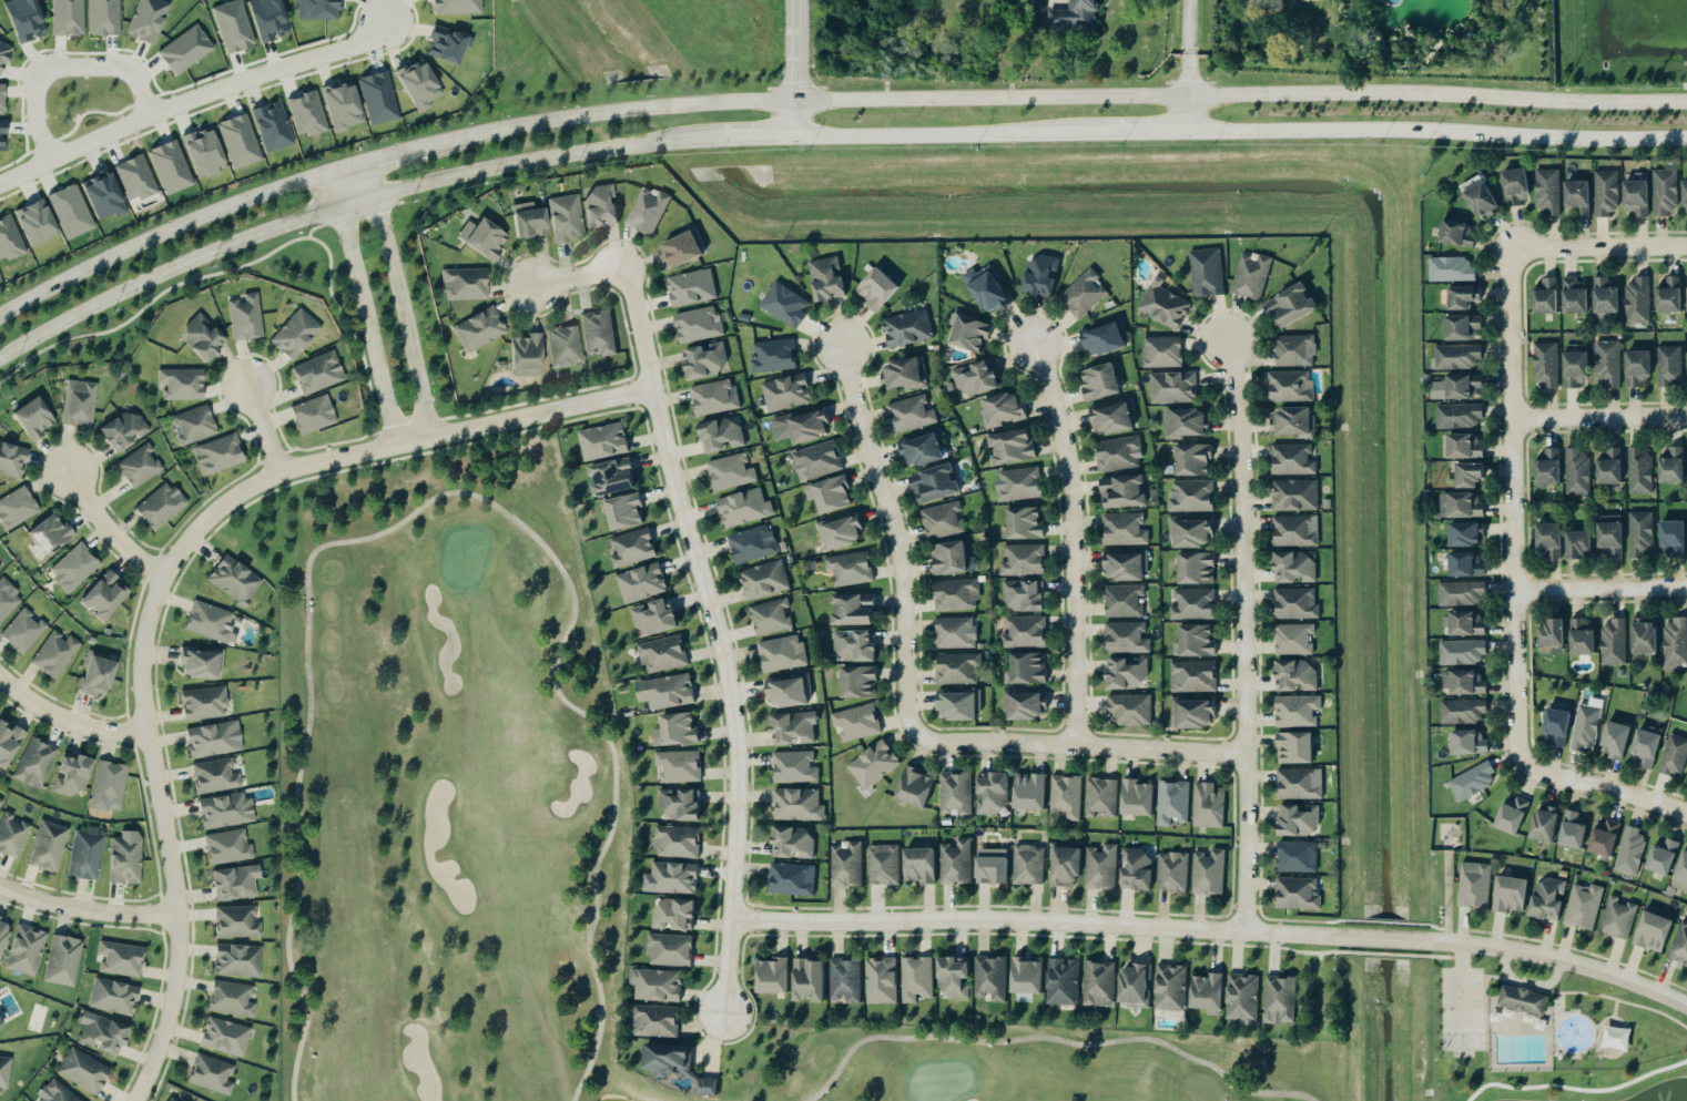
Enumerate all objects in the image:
building: (455, 6)
building: (315, 8)
building: (1073, 16)
building: (67, 17)
building: (103, 17)
building: (22, 19)
building: (145, 19)
building: (265, 19)
building: (232, 26)
building: (445, 43)
building: (183, 49)
building: (3, 52)
road: (1189, 67)
road: (796, 69)
road: (111, 77)
building: (417, 84)
building: (376, 96)
building: (1, 98)
road: (192, 99)
road: (1241, 103)
building: (339, 106)
building: (305, 113)
road: (609, 113)
road: (41, 119)
building: (271, 125)
road: (1241, 133)
building: (2, 134)
building: (237, 140)
building: (201, 152)
road: (393, 154)
building: (169, 166)
road: (342, 167)
building: (133, 177)
building: (1514, 186)
building: (1547, 191)
building: (1606, 193)
building: (1666, 193)
building: (1684, 193)
road: (382, 195)
building: (100, 196)
building: (1576, 197)
building: (1636, 197)
building: (1480, 200)
building: (599, 205)
building: (69, 211)
building: (648, 212)
building: (565, 217)
building: (526, 220)
building: (33, 222)
building: (1456, 234)
road: (156, 237)
building: (8, 238)
building: (481, 238)
building: (680, 248)
road: (1512, 252)
building: (1451, 269)
building: (1207, 273)
building: (1040, 275)
building: (1251, 276)
road: (578, 278)
building: (826, 279)
building: (464, 283)
building: (691, 287)
building: (875, 288)
building: (985, 290)
building: (1084, 294)
building: (1544, 296)
building: (1574, 296)
building: (1605, 296)
building: (1669, 296)
building: (1462, 297)
road: (400, 299)
building: (1638, 300)
building: (784, 305)
building: (1162, 305)
building: (1290, 306)
road: (359, 309)
building: (244, 317)
building: (698, 325)
building: (1462, 327)
building: (478, 328)
building: (907, 328)
building: (598, 333)
building: (294, 334)
building: (968, 334)
building: (200, 337)
building: (1104, 339)
building: (562, 345)
building: (1294, 350)
building: (1161, 353)
building: (525, 354)
building: (773, 356)
building: (1457, 357)
building: (703, 360)
building: (1607, 363)
building: (1546, 365)
building: (1575, 365)
building: (1669, 366)
building: (1637, 367)
building: (317, 371)
building: (903, 374)
building: (976, 378)
building: (1098, 381)
building: (181, 383)
building: (1290, 386)
building: (1172, 388)
building: (1457, 388)
building: (785, 393)
building: (713, 397)
building: (78, 402)
building: (1002, 409)
building: (312, 414)
building: (911, 415)
building: (1459, 416)
building: (30, 418)
building: (1112, 418)
building: (1183, 422)
building: (1293, 422)
road: (1602, 422)
building: (193, 425)
road: (262, 426)
building: (800, 427)
building: (122, 429)
building: (720, 436)
building: (602, 441)
building: (1464, 446)
road: (390, 447)
building: (1010, 447)
building: (922, 449)
building: (217, 453)
building: (1119, 455)
building: (11, 459)
building: (1192, 459)
building: (1292, 460)
building: (816, 461)
building: (138, 466)
building: (1671, 466)
building: (1608, 467)
building: (1548, 468)
building: (730, 472)
building: (1577, 472)
building: (1639, 472)
building: (1467, 475)
building: (610, 477)
building: (935, 483)
building: (1018, 485)
road: (454, 492)
building: (1122, 492)
building: (831, 495)
building: (1191, 496)
building: (1295, 496)
building: (159, 506)
building: (1461, 506)
building: (16, 508)
building: (743, 508)
building: (624, 512)
building: (943, 520)
building: (1023, 523)
road: (110, 526)
building: (1125, 529)
building: (1295, 531)
building: (840, 532)
building: (47, 533)
building: (1191, 533)
building: (1640, 533)
building: (1466, 534)
road: (894, 537)
building: (1609, 537)
building: (1671, 538)
road: (1075, 541)
building: (1547, 541)
building: (752, 544)
building: (1577, 546)
building: (632, 548)
building: (948, 559)
building: (1024, 560)
building: (1465, 564)
building: (73, 567)
building: (1125, 567)
building: (1195, 568)
building: (1293, 568)
building: (850, 569)
building: (232, 579)
building: (764, 580)
building: (640, 583)
road: (1600, 589)
building: (1460, 593)
building: (102, 594)
building: (956, 595)
building: (1023, 595)
building: (7, 599)
building: (1124, 601)
building: (1295, 604)
building: (1193, 605)
road: (1515, 605)
building: (851, 610)
building: (653, 616)
building: (771, 618)
building: (210, 622)
building: (1465, 624)
building: (22, 631)
building: (1025, 632)
building: (955, 633)
building: (1551, 634)
road: (1244, 635)
road: (719, 636)
building: (1643, 636)
building: (1126, 638)
building: (1581, 638)
building: (1293, 639)
building: (1196, 642)
building: (1613, 642)
building: (1675, 643)
building: (854, 646)
building: (1463, 652)
building: (53, 654)
building: (662, 654)
building: (782, 654)
building: (199, 664)
building: (957, 669)
building: (1026, 669)
building: (94, 676)
building: (1294, 676)
building: (1193, 677)
building: (856, 682)
building: (1464, 683)
building: (664, 692)
building: (787, 692)
building: (202, 703)
building: (957, 706)
building: (1023, 706)
building: (1129, 710)
building: (1297, 711)
building: (1462, 712)
building: (1193, 714)
building: (856, 722)
road: (67, 725)
building: (1587, 726)
building: (1555, 727)
building: (674, 731)
building: (209, 740)
building: (1614, 741)
building: (7, 742)
building: (1467, 743)
road: (1080, 745)
building: (1644, 747)
building: (1293, 748)
building: (1674, 755)
building: (34, 763)
building: (873, 765)
building: (679, 766)
building: (795, 767)
building: (70, 774)
building: (214, 775)
building: (1472, 782)
building: (1298, 785)
building: (106, 786)
building: (913, 788)
building: (955, 793)
building: (1027, 793)
building: (990, 794)
road: (1615, 794)
building: (1066, 797)
building: (1100, 797)
building: (1135, 798)
building: (0, 799)
building: (1172, 803)
building: (680, 805)
building: (797, 805)
building: (1208, 806)
building: (223, 811)
building: (1511, 815)
building: (1298, 822)
building: (1543, 825)
park: (539, 830)
building: (1572, 830)
building: (11, 835)
road: (165, 838)
building: (1604, 838)
building: (677, 842)
building: (791, 843)
building: (47, 846)
building: (226, 847)
building: (1632, 852)
building: (84, 854)
building: (1297, 857)
building: (123, 858)
building: (1661, 858)
building: (956, 863)
building: (883, 865)
building: (1029, 865)
building: (917, 866)
building: (1065, 866)
building: (990, 867)
building: (1101, 868)
building: (1135, 870)
building: (1681, 871)
building: (1172, 873)
building: (1209, 873)
building: (670, 878)
building: (792, 879)
building: (1474, 885)
road: (1447, 887)
building: (1298, 894)
building: (1508, 895)
building: (1547, 900)
building: (1584, 907)
road: (85, 910)
building: (672, 914)
building: (1618, 919)
building: (0, 921)
building: (235, 921)
road: (1215, 929)
building: (1653, 932)
building: (1, 936)
building: (1679, 945)
building: (23, 949)
building: (670, 949)
building: (119, 958)
building: (235, 958)
building: (61, 960)
building: (770, 975)
building: (1026, 975)
building: (953, 977)
building: (990, 977)
building: (916, 978)
building: (806, 979)
building: (845, 979)
building: (881, 980)
building: (1064, 981)
building: (1099, 983)
building: (1135, 983)
building: (656, 985)
building: (1170, 987)
building: (1207, 991)
building: (112, 996)
building: (1516, 996)
building: (1242, 997)
building: (230, 998)
road: (1462, 998)
building: (1280, 1000)
parking lot: (1460, 1006)
building: (0, 1019)
building: (656, 1020)
building: (100, 1031)
building: (224, 1034)
building: (1616, 1037)
road: (1056, 1038)
building: (665, 1058)
building: (82, 1069)
building: (3, 1070)
building: (210, 1073)
building: (707, 1085)
building: (53, 1092)
building: (171, 1098)

